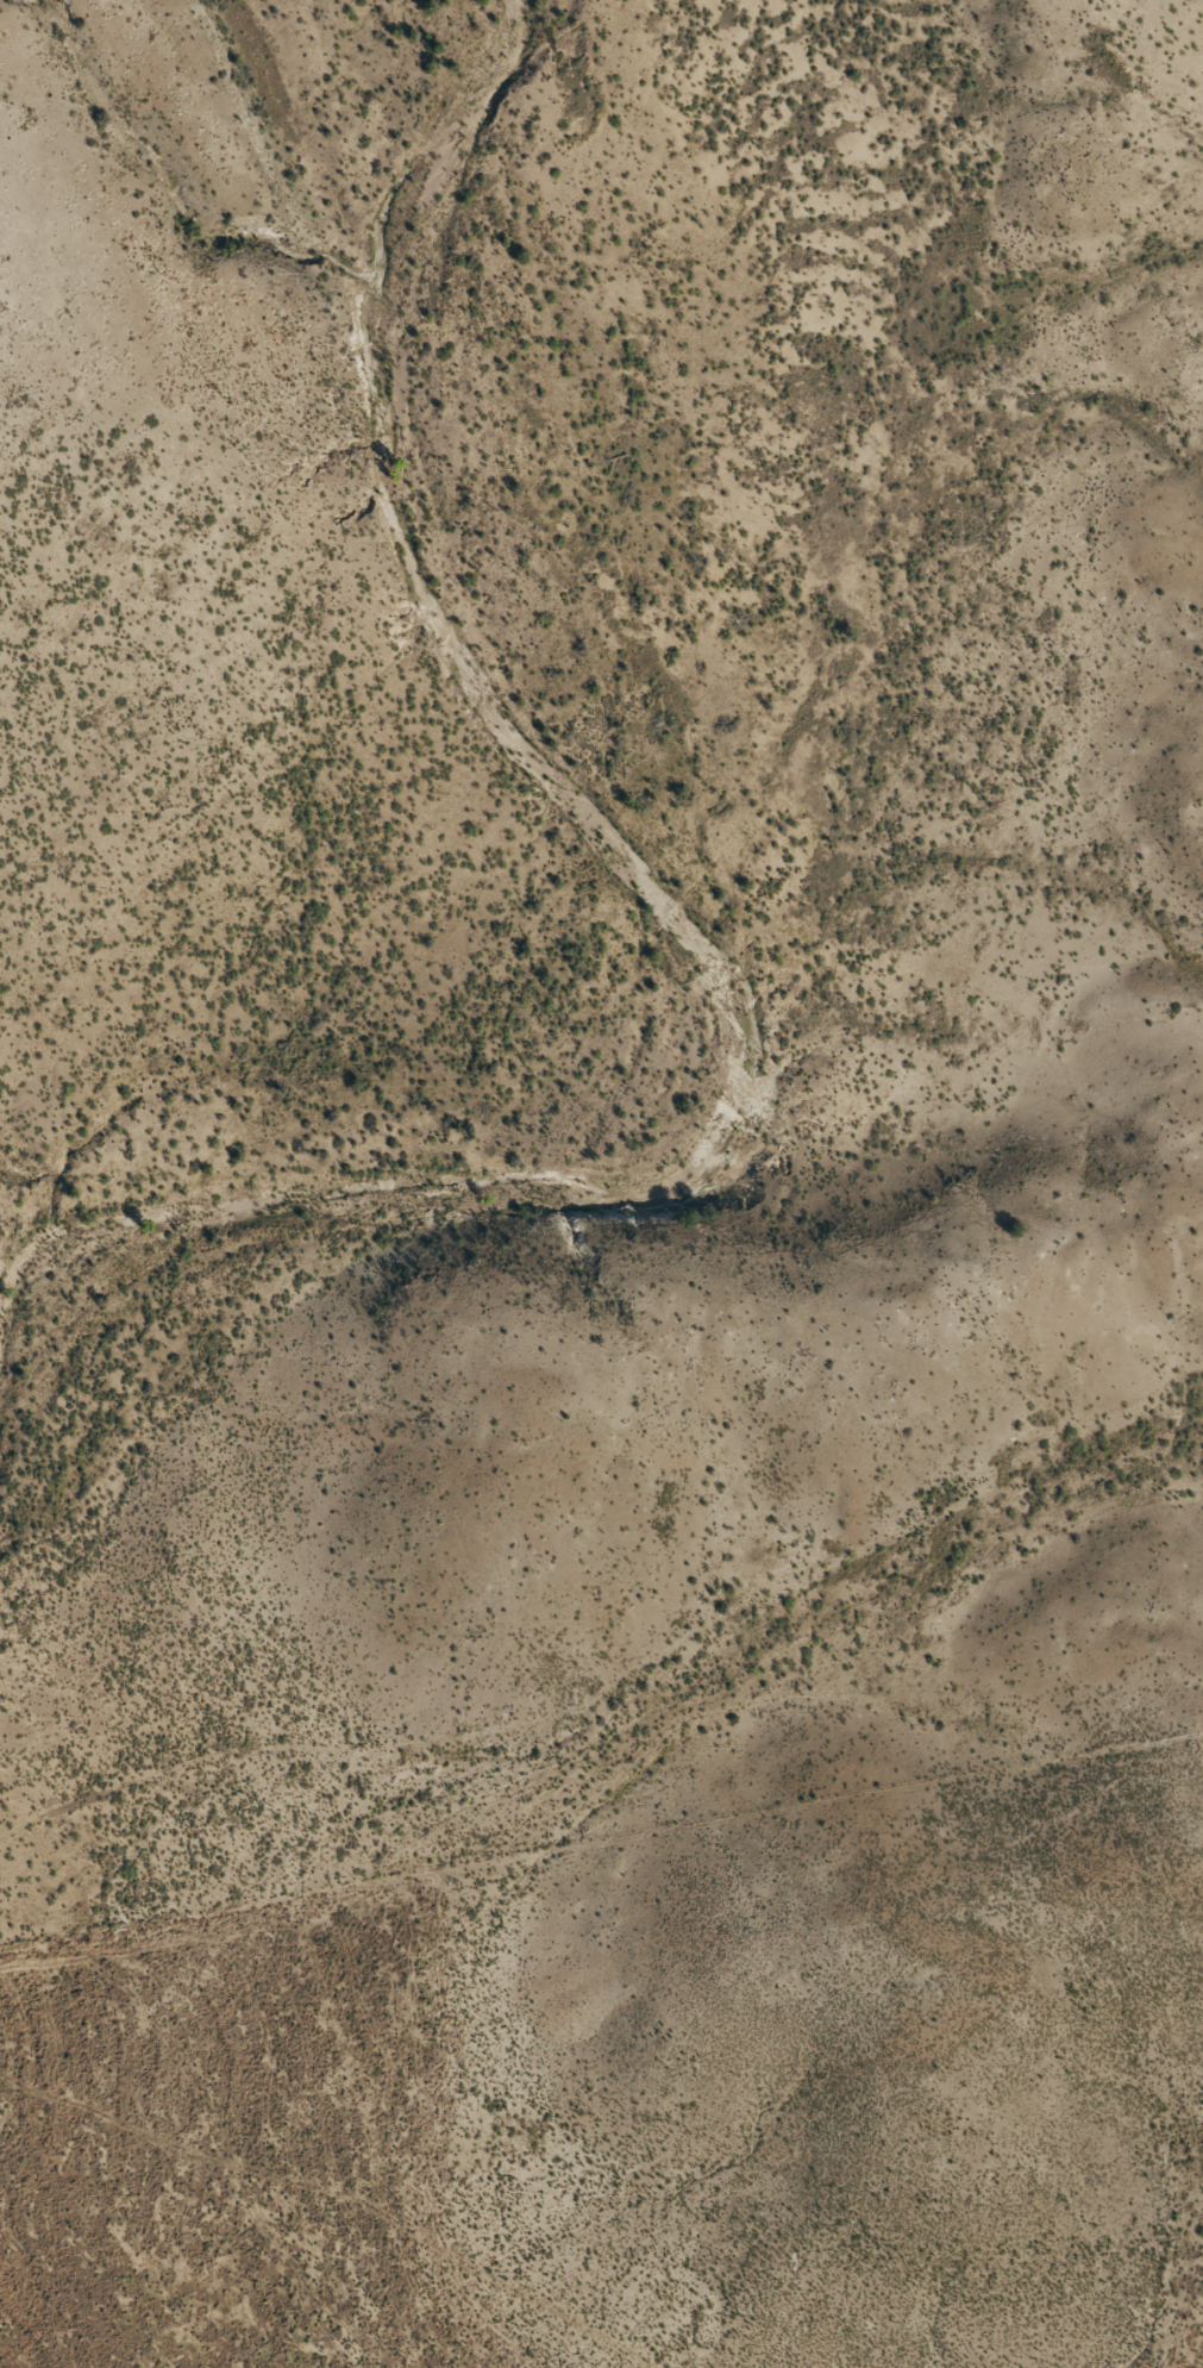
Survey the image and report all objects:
road: (619, 1686)

